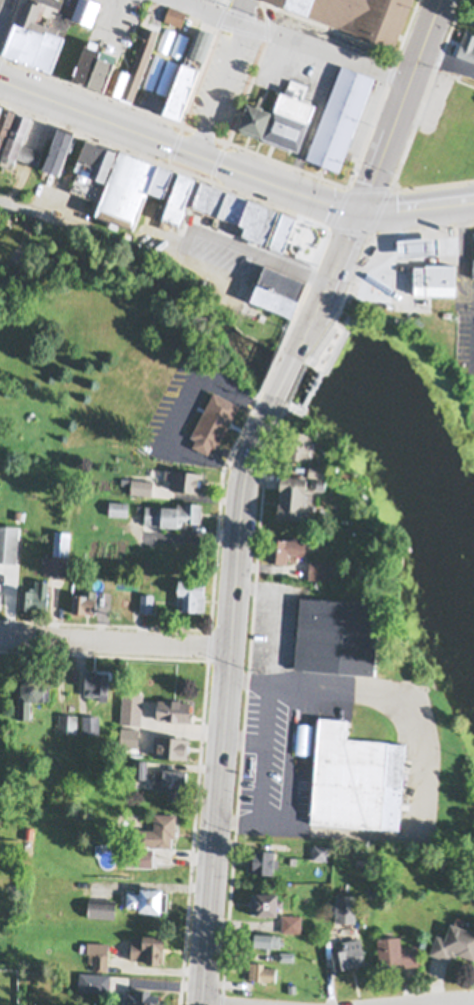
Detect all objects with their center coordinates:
road: (2, 7)
building: (86, 9)
building: (360, 14)
building: (174, 15)
building: (152, 18)
building: (33, 33)
road: (291, 37)
building: (467, 43)
building: (94, 60)
building: (161, 74)
road: (224, 78)
building: (1, 103)
road: (400, 104)
building: (341, 116)
building: (256, 117)
building: (290, 118)
building: (5, 119)
building: (18, 140)
building: (445, 141)
building: (59, 144)
road: (179, 148)
building: (92, 164)
building: (131, 184)
building: (238, 209)
traffic signals: (361, 209)
road: (417, 209)
building: (285, 228)
building: (418, 242)
building: (473, 268)
gas station: (410, 273)
building: (435, 276)
road: (328, 282)
building: (278, 286)
building: (336, 346)
road: (285, 376)
dam: (300, 381)
park: (467, 397)
road: (182, 413)
building: (214, 418)
building: (297, 442)
building: (317, 468)
building: (184, 477)
building: (320, 481)
building: (139, 484)
building: (295, 492)
building: (118, 507)
building: (173, 512)
building: (8, 542)
building: (286, 544)
building: (58, 554)
building: (320, 567)
building: (108, 587)
building: (191, 593)
building: (0, 594)
building: (34, 594)
building: (146, 598)
building: (84, 599)
road: (279, 616)
building: (336, 633)
road: (114, 640)
building: (97, 682)
building: (31, 692)
road: (226, 697)
building: (131, 707)
building: (174, 709)
building: (67, 722)
building: (90, 723)
road: (267, 732)
building: (129, 737)
building: (170, 745)
building: (139, 767)
road: (414, 774)
building: (356, 777)
building: (170, 780)
road: (263, 781)
building: (159, 830)
building: (320, 850)
building: (137, 855)
building: (262, 859)
building: (442, 859)
road: (151, 881)
building: (148, 897)
building: (265, 901)
building: (101, 906)
building: (345, 907)
building: (291, 922)
building: (266, 938)
building: (454, 941)
building: (147, 945)
building: (396, 951)
building: (99, 953)
building: (349, 953)
building: (287, 955)
building: (262, 970)
building: (95, 980)
building: (143, 997)
road: (462, 1003)

